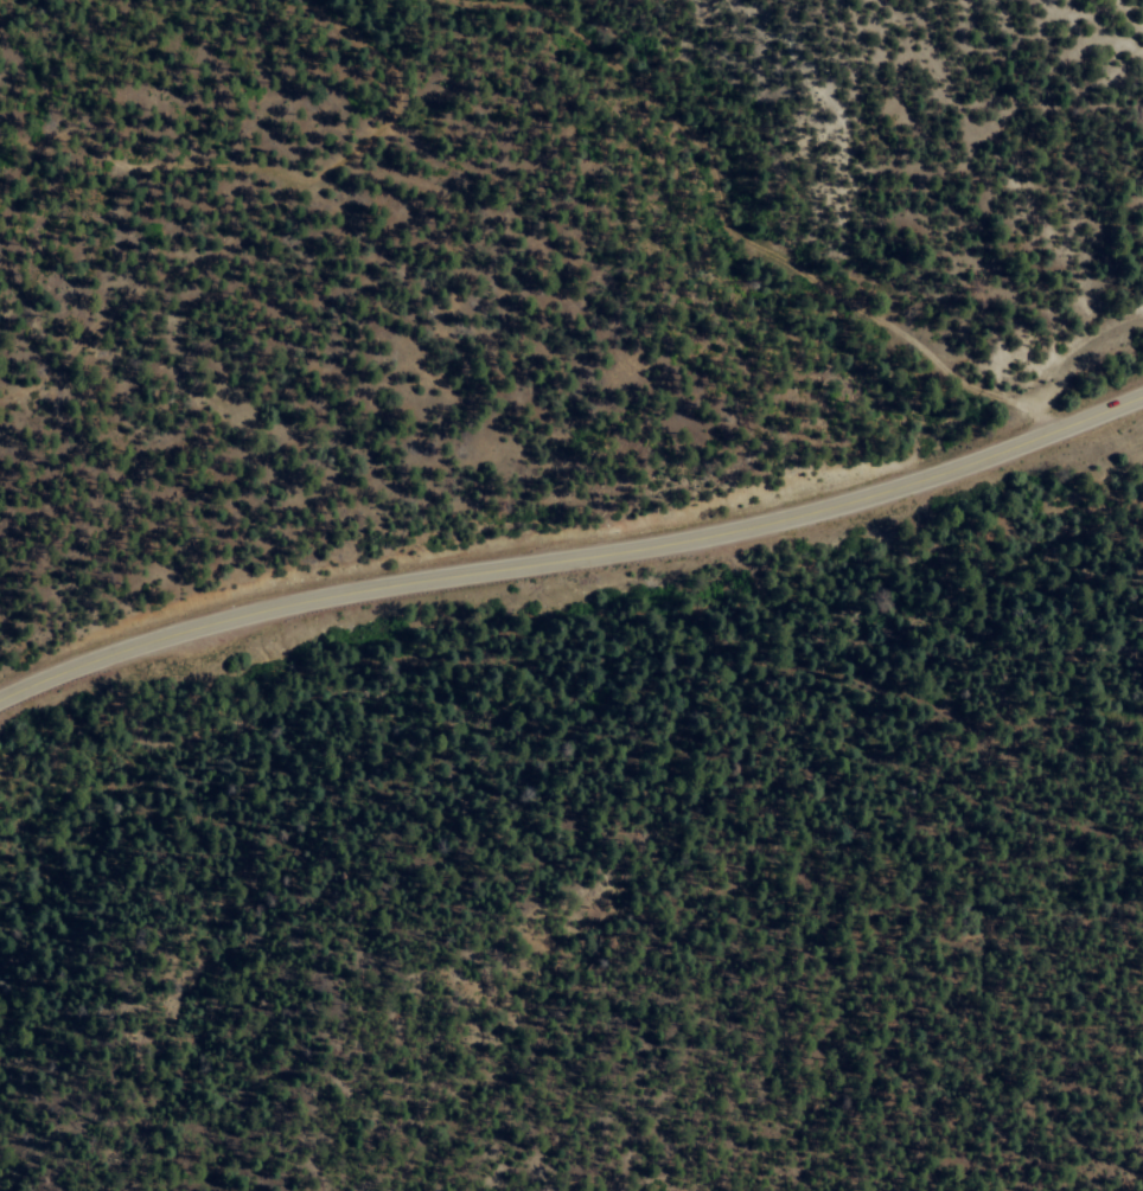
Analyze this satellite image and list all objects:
road: (218, 132)
road: (785, 226)
road: (571, 552)

